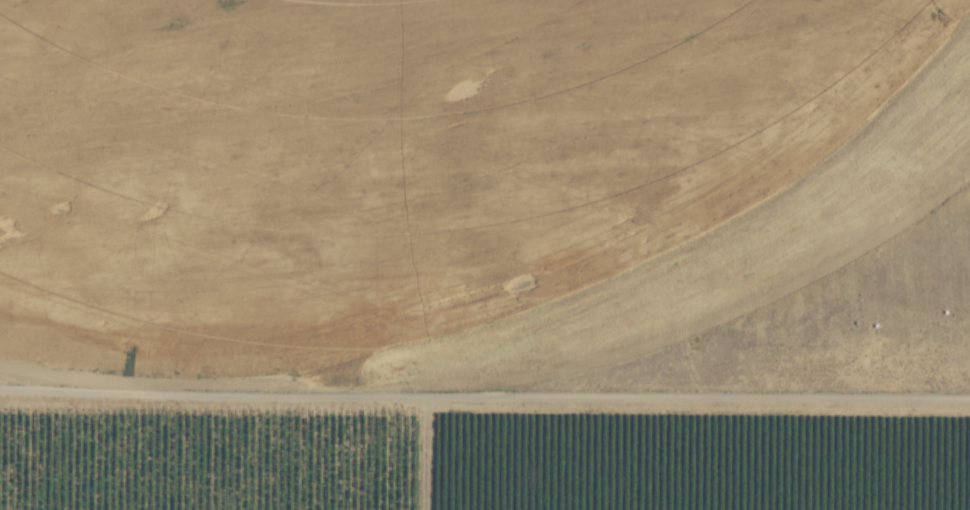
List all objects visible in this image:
crop: (443, 189)

